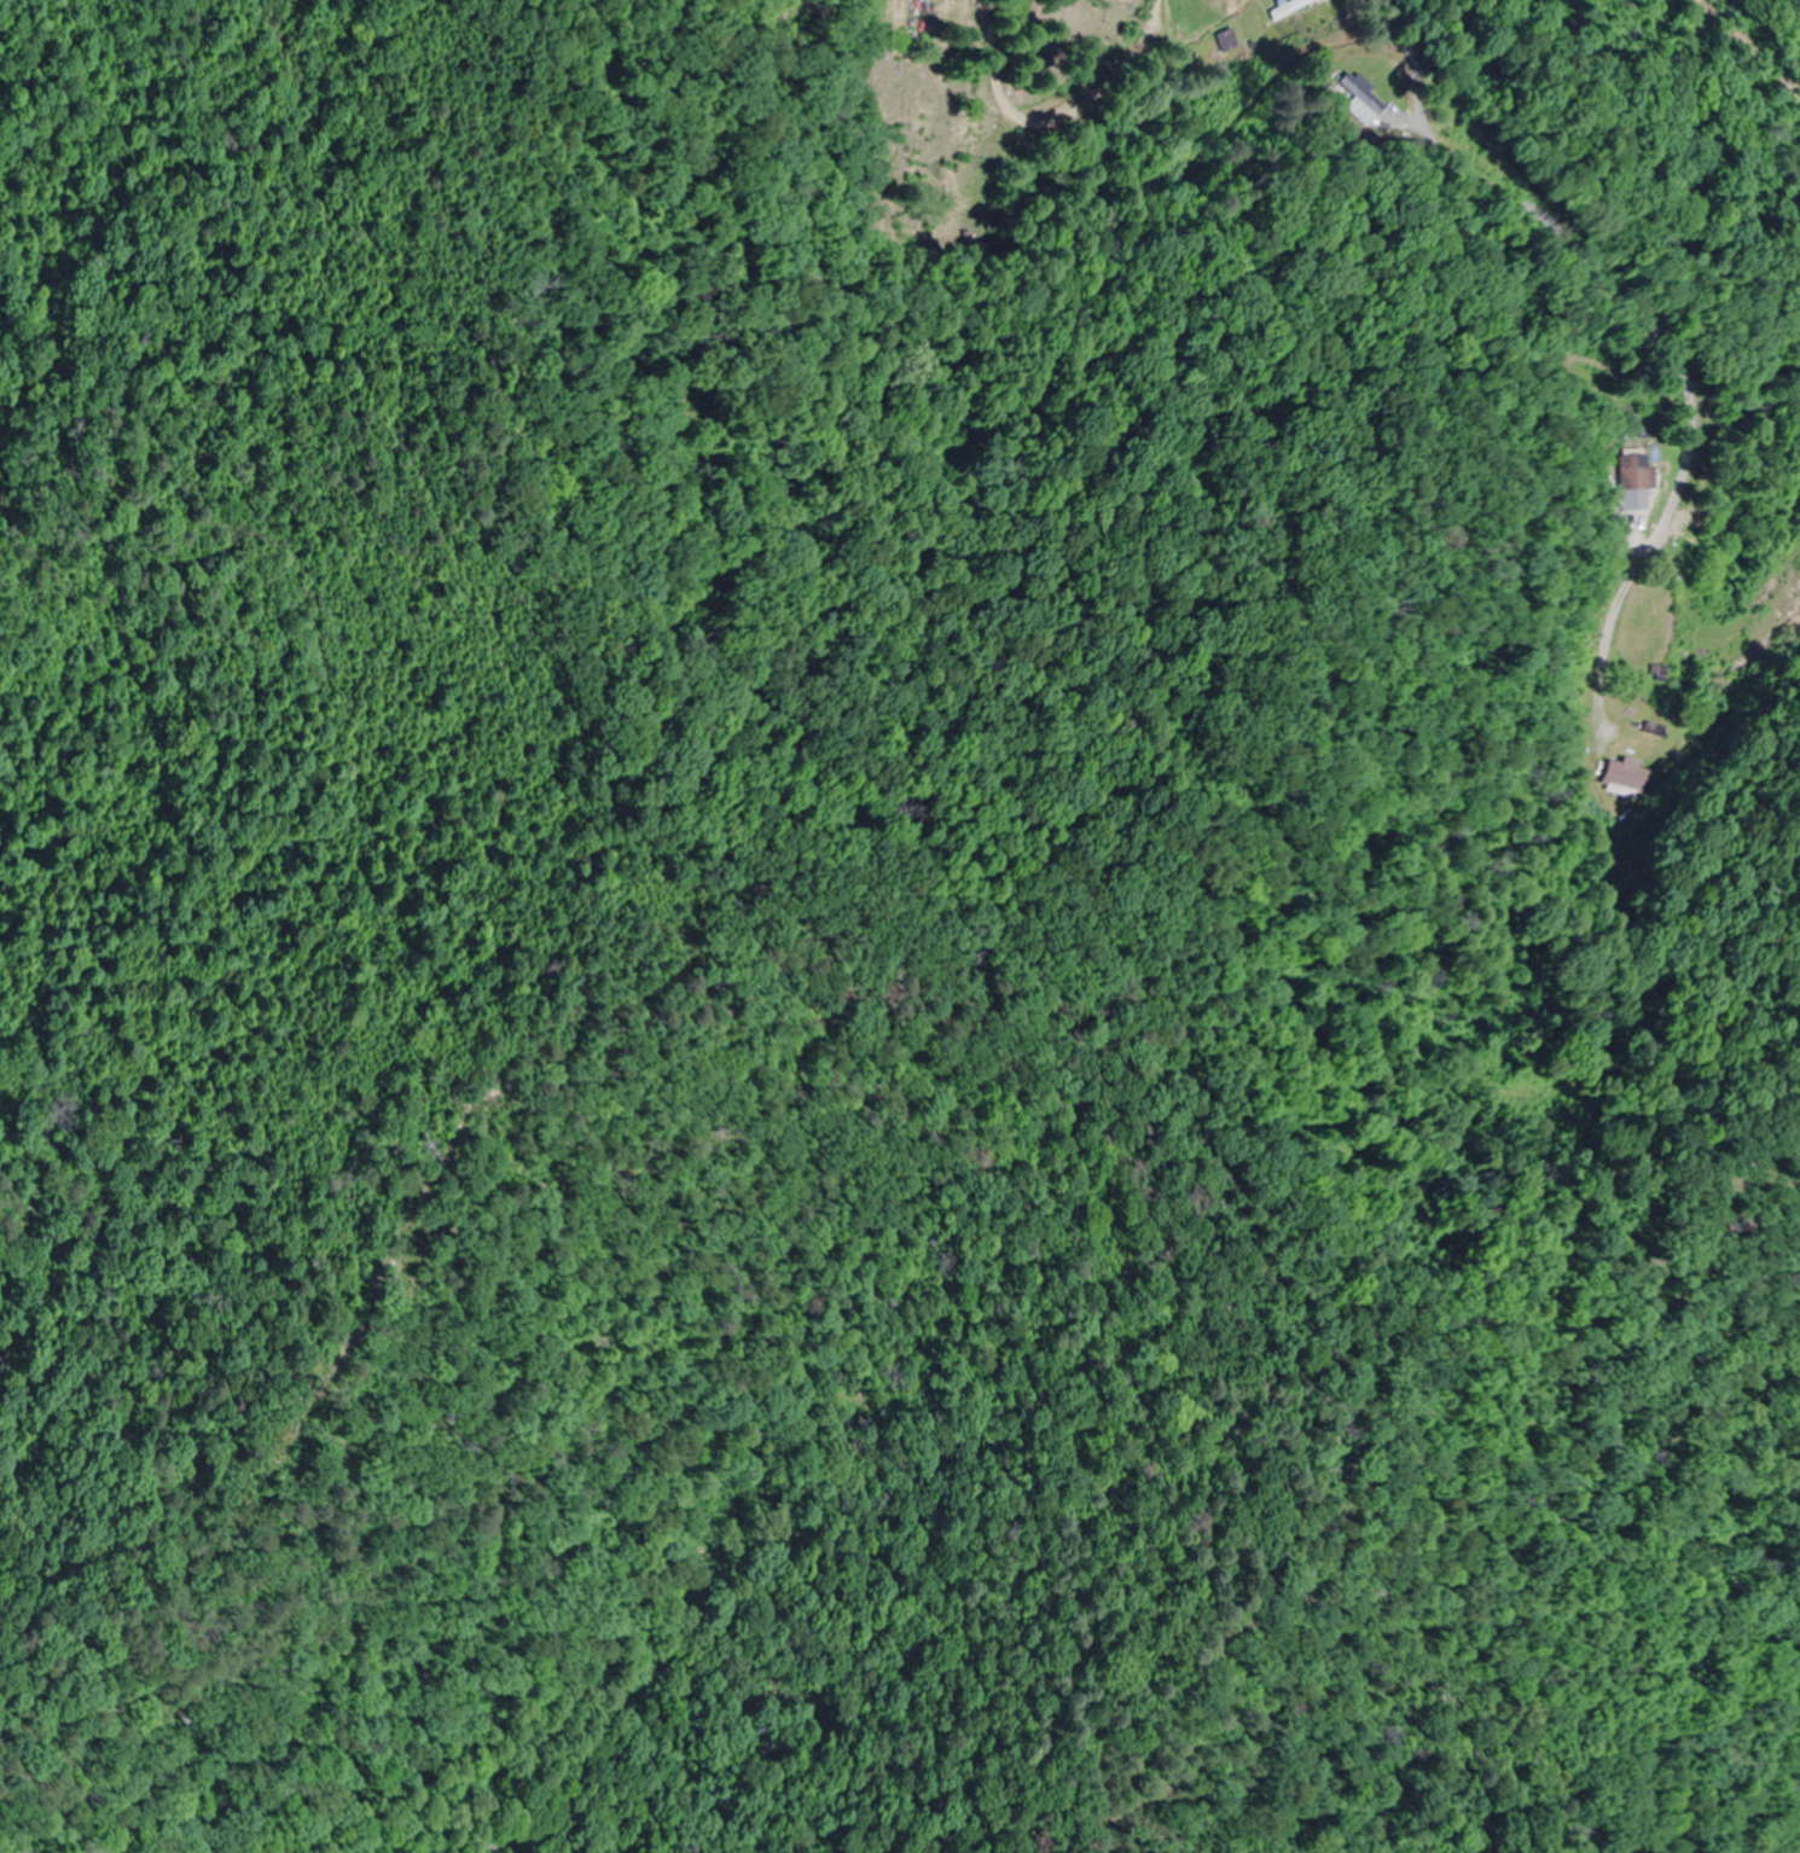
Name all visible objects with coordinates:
building: (1213, 4)
building: (1233, 41)
building: (1366, 97)
road: (1598, 266)
building: (1638, 482)
building: (1633, 777)

